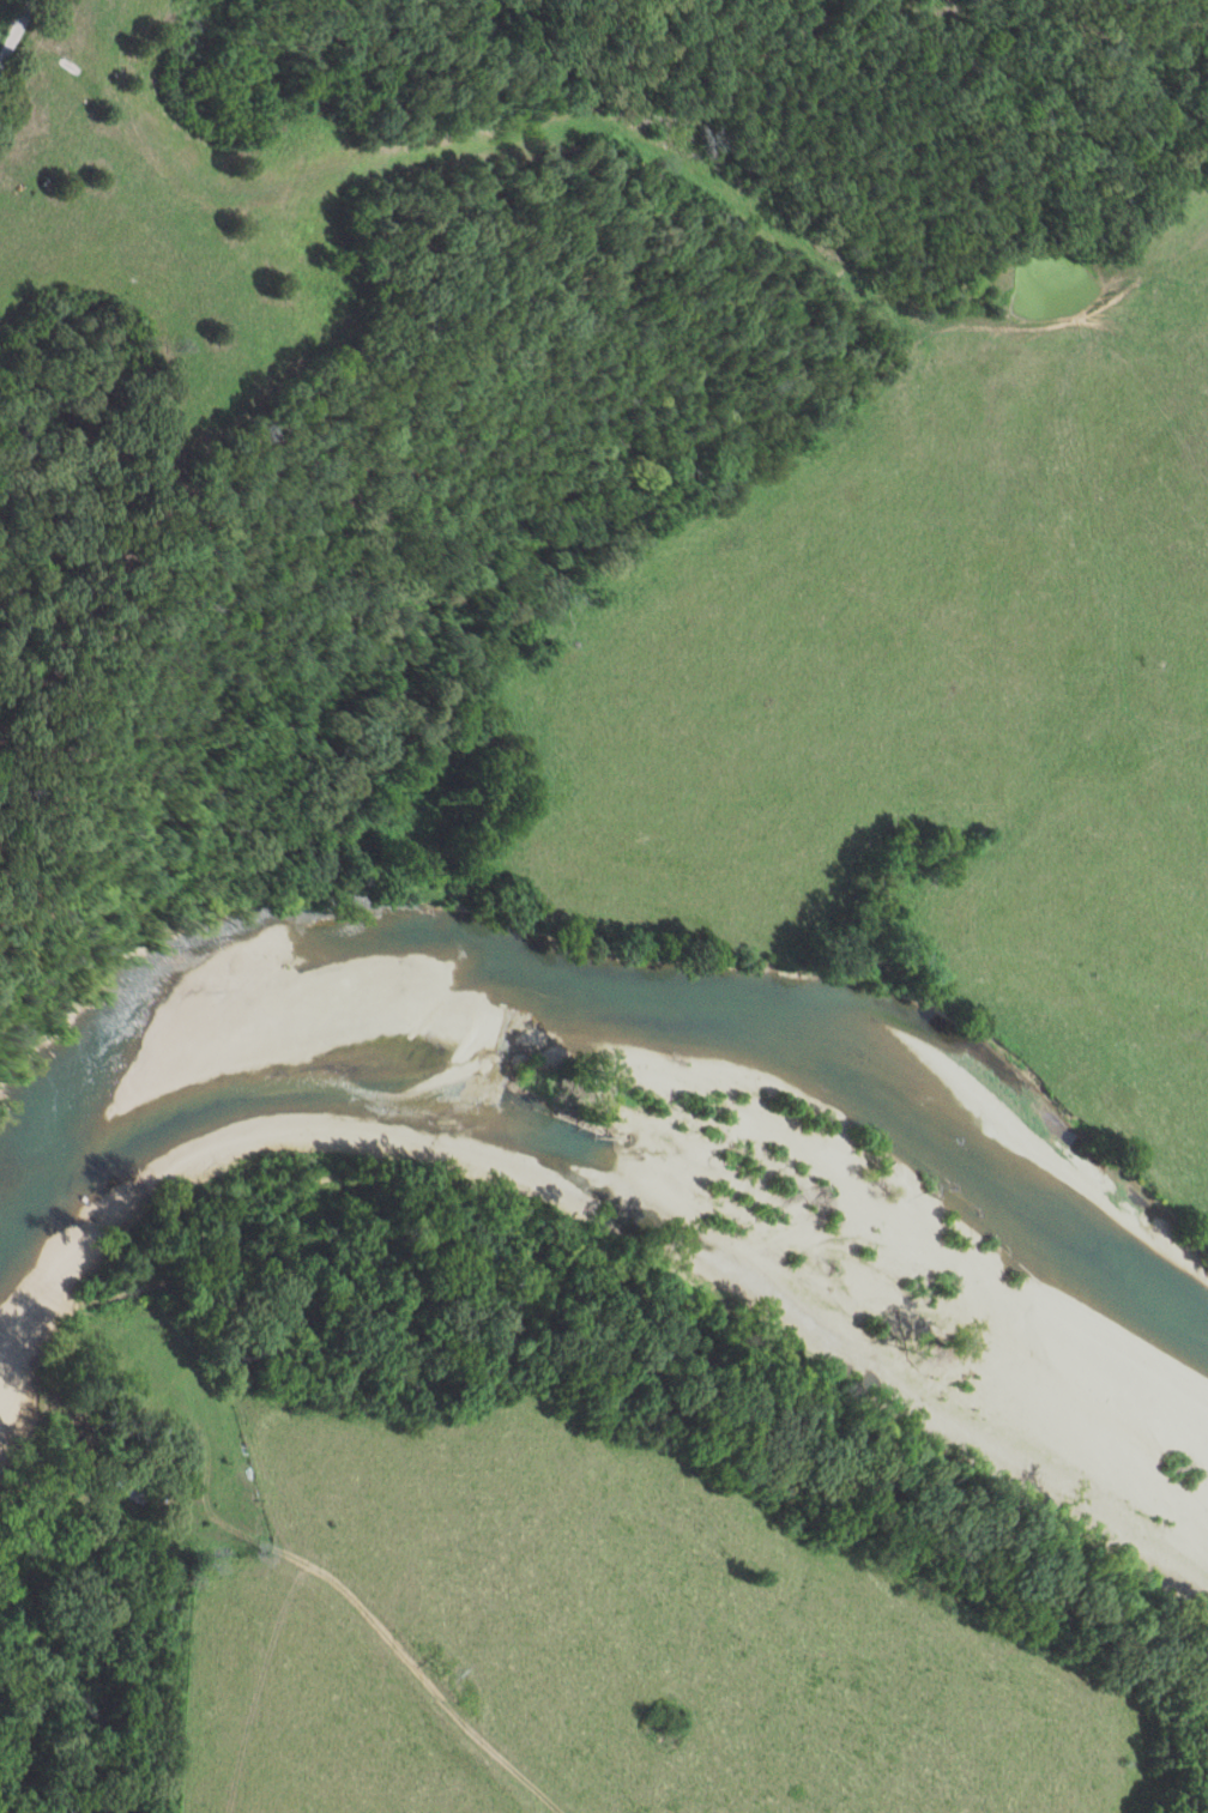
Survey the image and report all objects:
road: (11, 22)
river: (599, 999)
road: (389, 1640)
power tower: (453, 1676)

